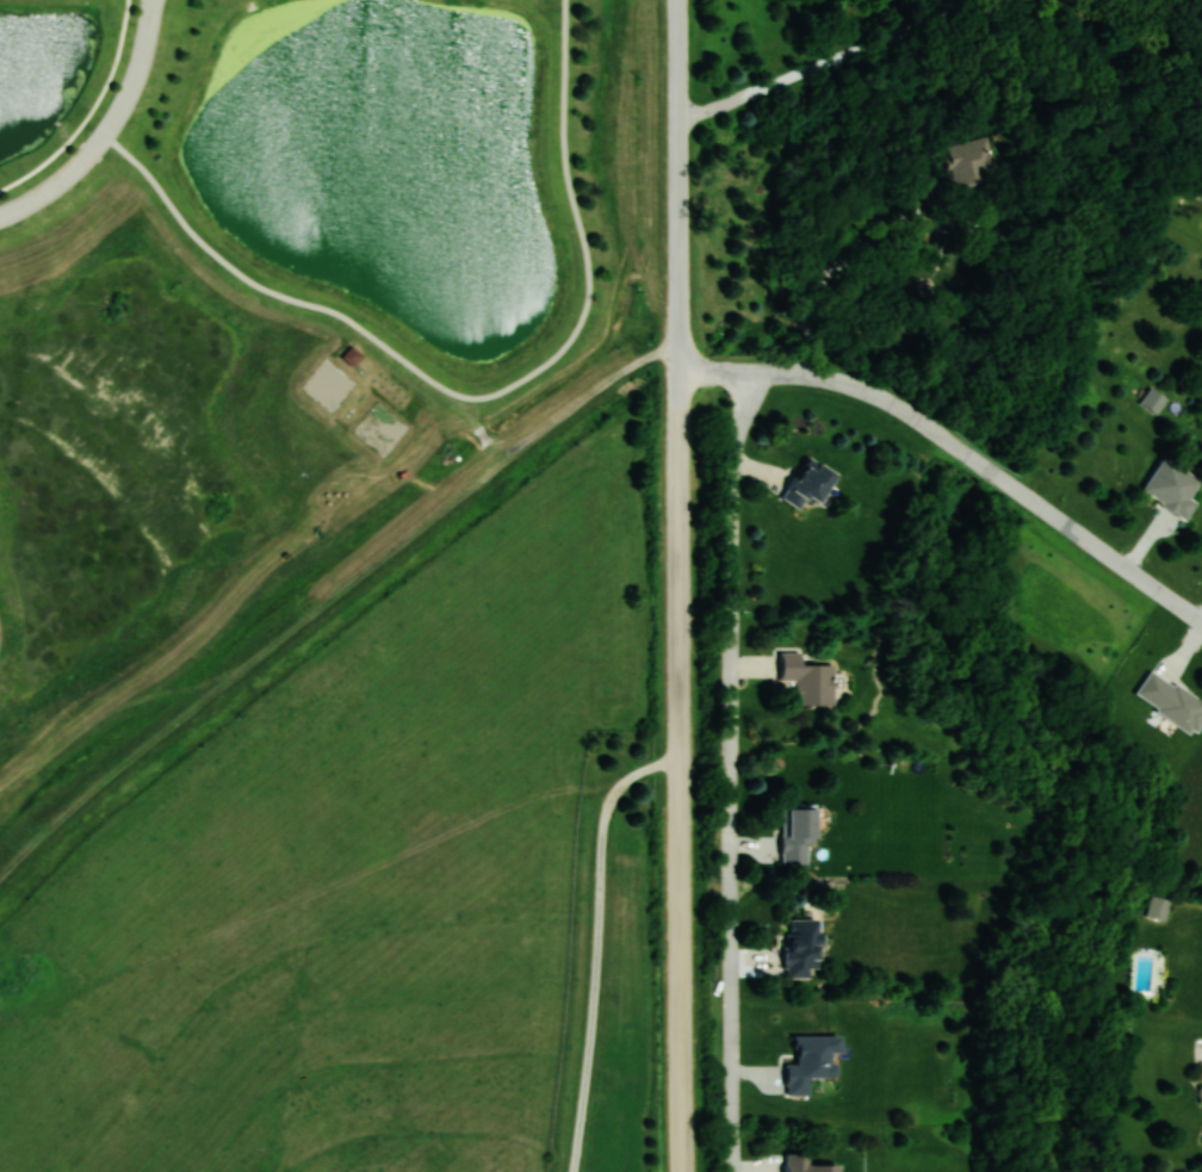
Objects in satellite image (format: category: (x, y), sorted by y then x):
road: (950, 8)
road: (975, 15)
road: (811, 70)
road: (89, 112)
road: (107, 131)
building: (974, 166)
road: (679, 187)
road: (878, 238)
building: (351, 355)
road: (473, 397)
road: (958, 453)
building: (808, 483)
building: (1172, 488)
road: (1201, 626)
building: (808, 680)
building: (1171, 701)
road: (733, 771)
road: (680, 773)
building: (797, 835)
building: (1157, 909)
road: (597, 945)
building: (803, 948)
building: (812, 1062)
building: (806, 1165)

